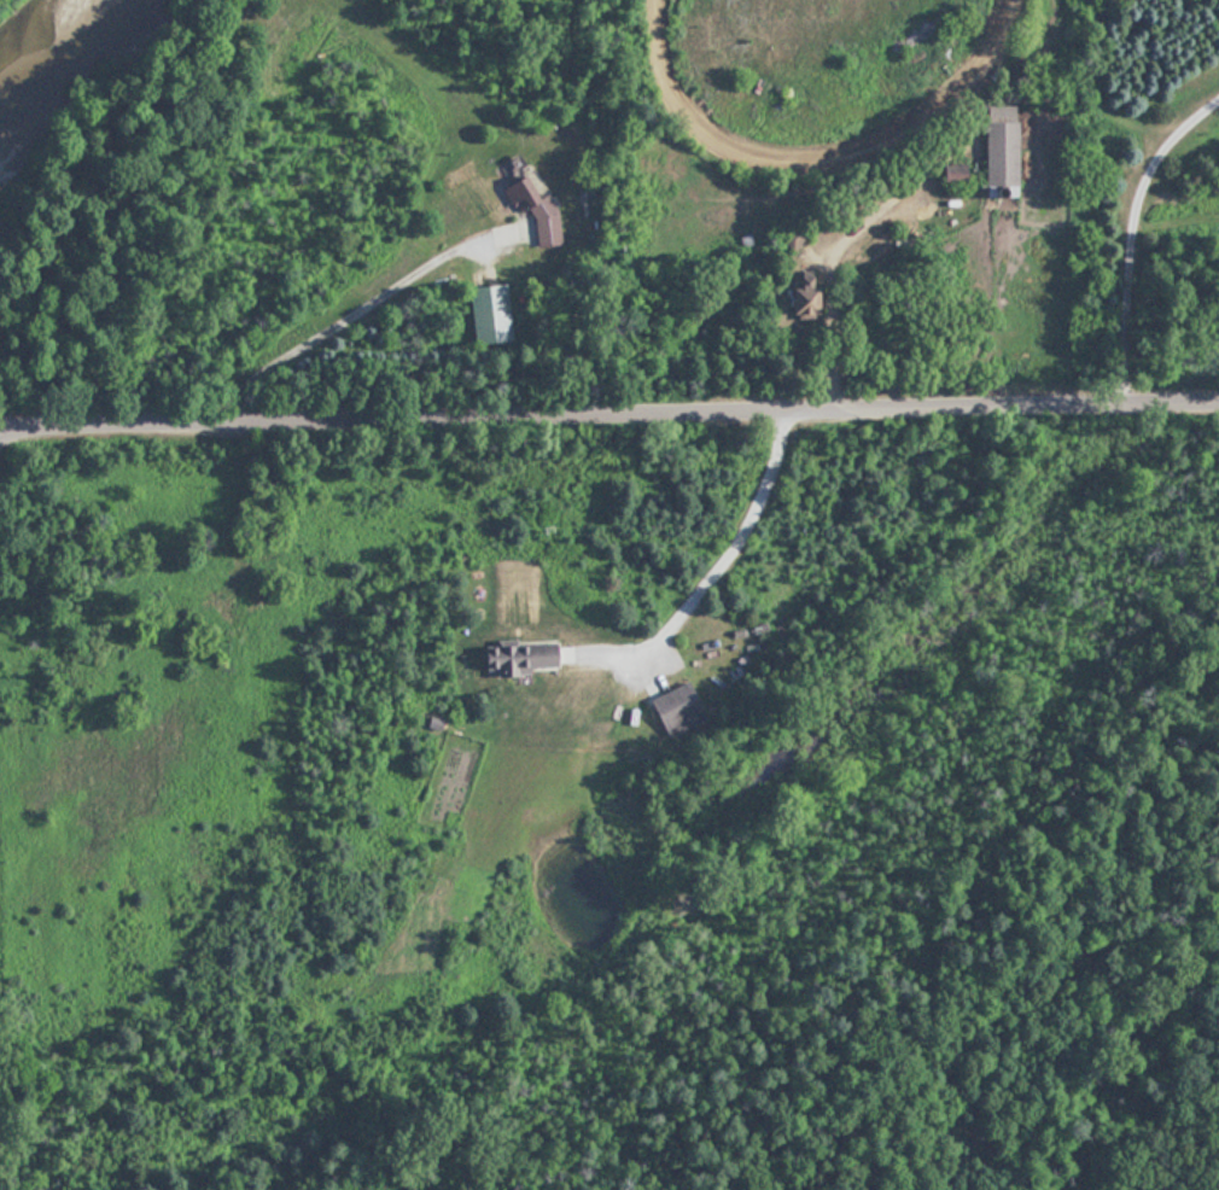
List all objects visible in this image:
river: (51, 49)
building: (993, 152)
building: (531, 210)
road: (1125, 227)
road: (826, 278)
building: (798, 292)
building: (488, 313)
road: (338, 322)
road: (608, 426)
road: (708, 573)
building: (515, 655)
building: (673, 708)

